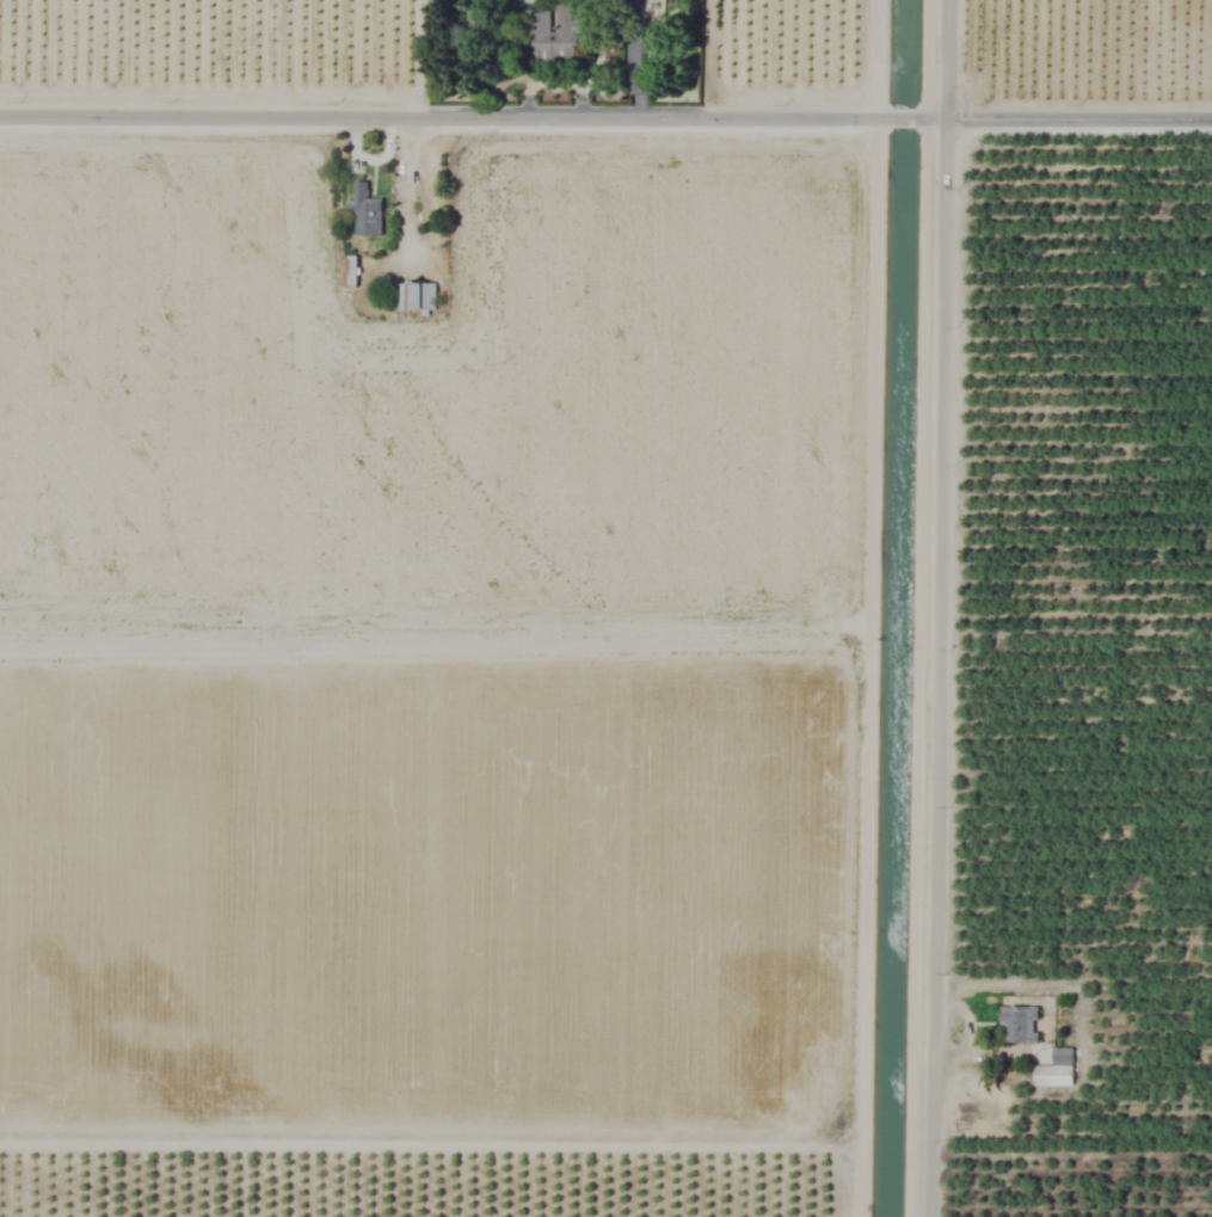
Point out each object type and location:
building: (549, 35)
road: (872, 59)
road: (443, 115)
road: (904, 117)
road: (1066, 117)
road: (405, 186)
building: (364, 211)
building: (347, 271)
building: (419, 296)
crop: (605, 608)
road: (939, 608)
building: (1016, 1025)
building: (1054, 1070)

